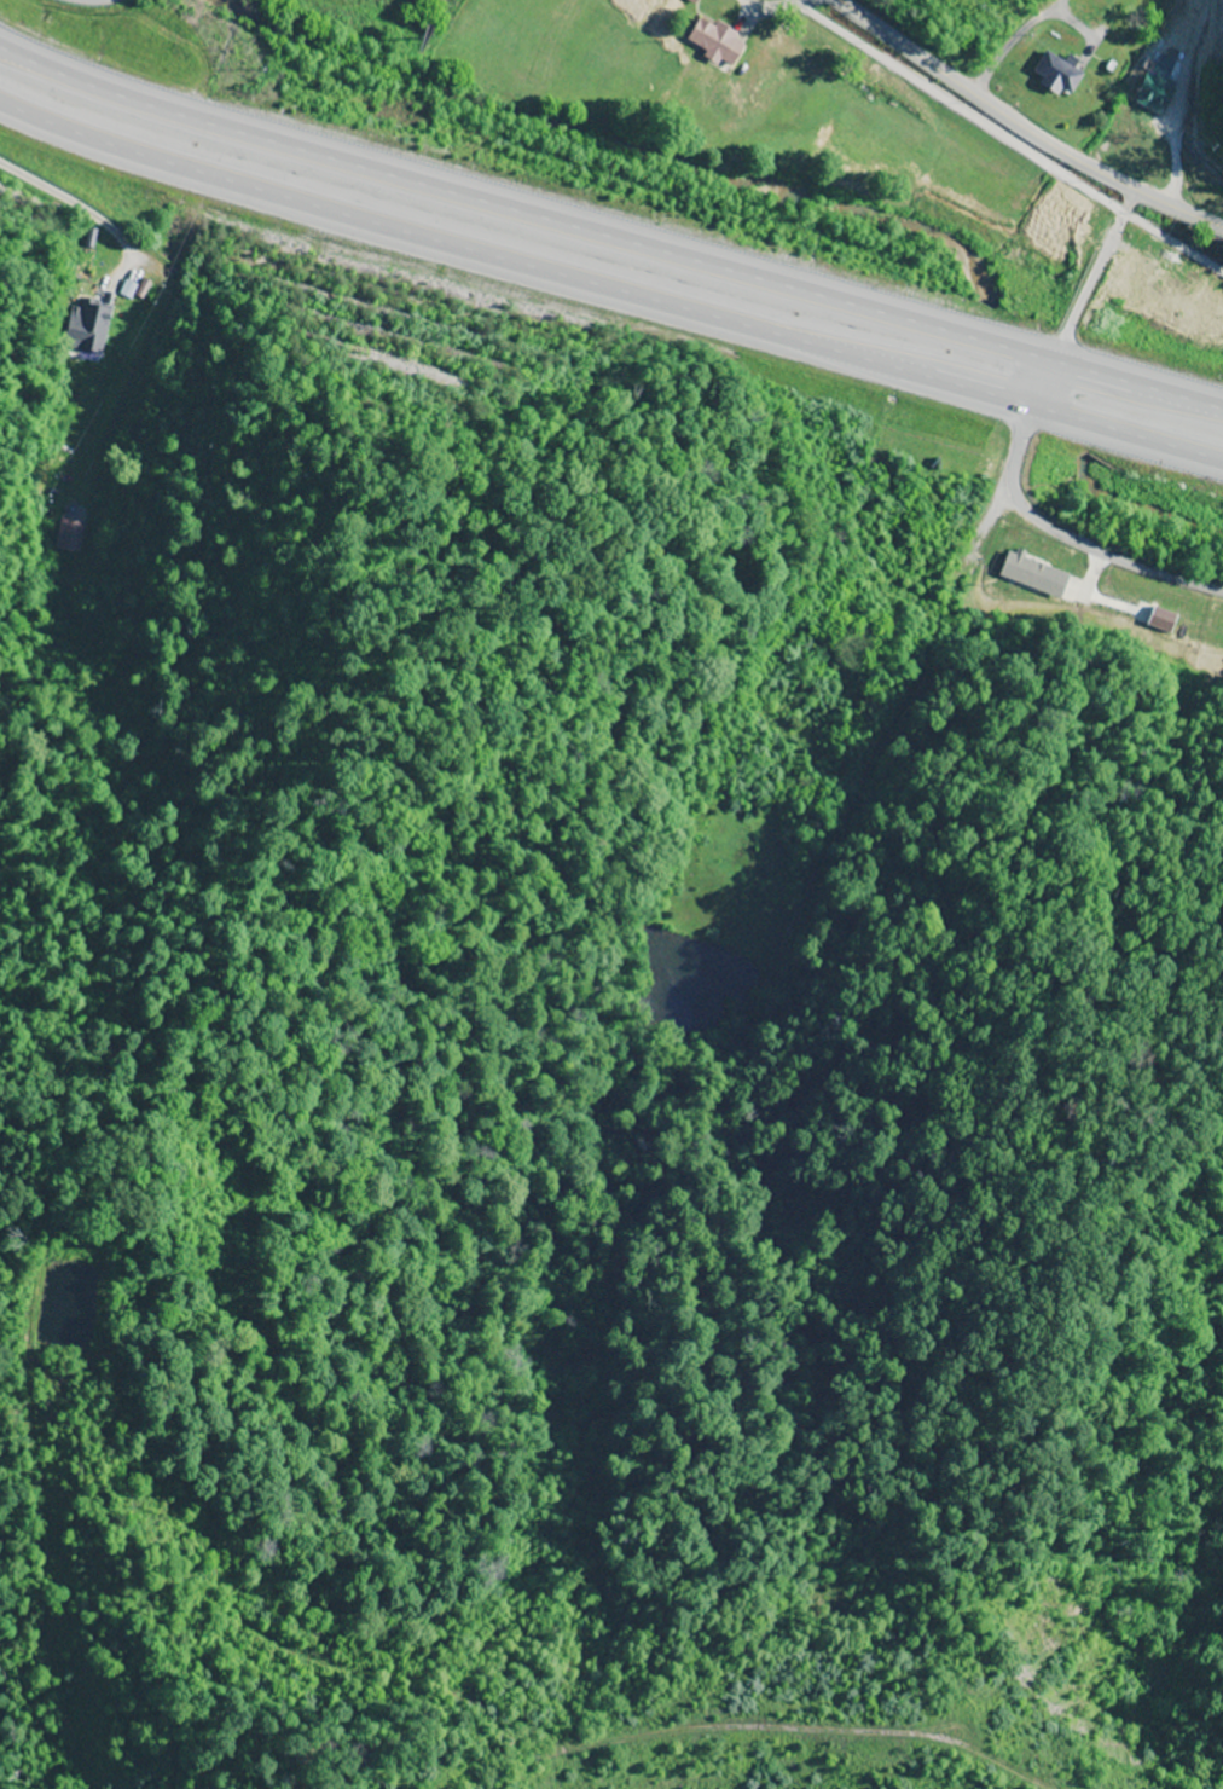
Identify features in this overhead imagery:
road: (97, 0)
building: (717, 41)
building: (1059, 73)
building: (1150, 99)
road: (1018, 131)
road: (1003, 134)
road: (609, 242)
road: (609, 293)
road: (1009, 450)
building: (1018, 574)

